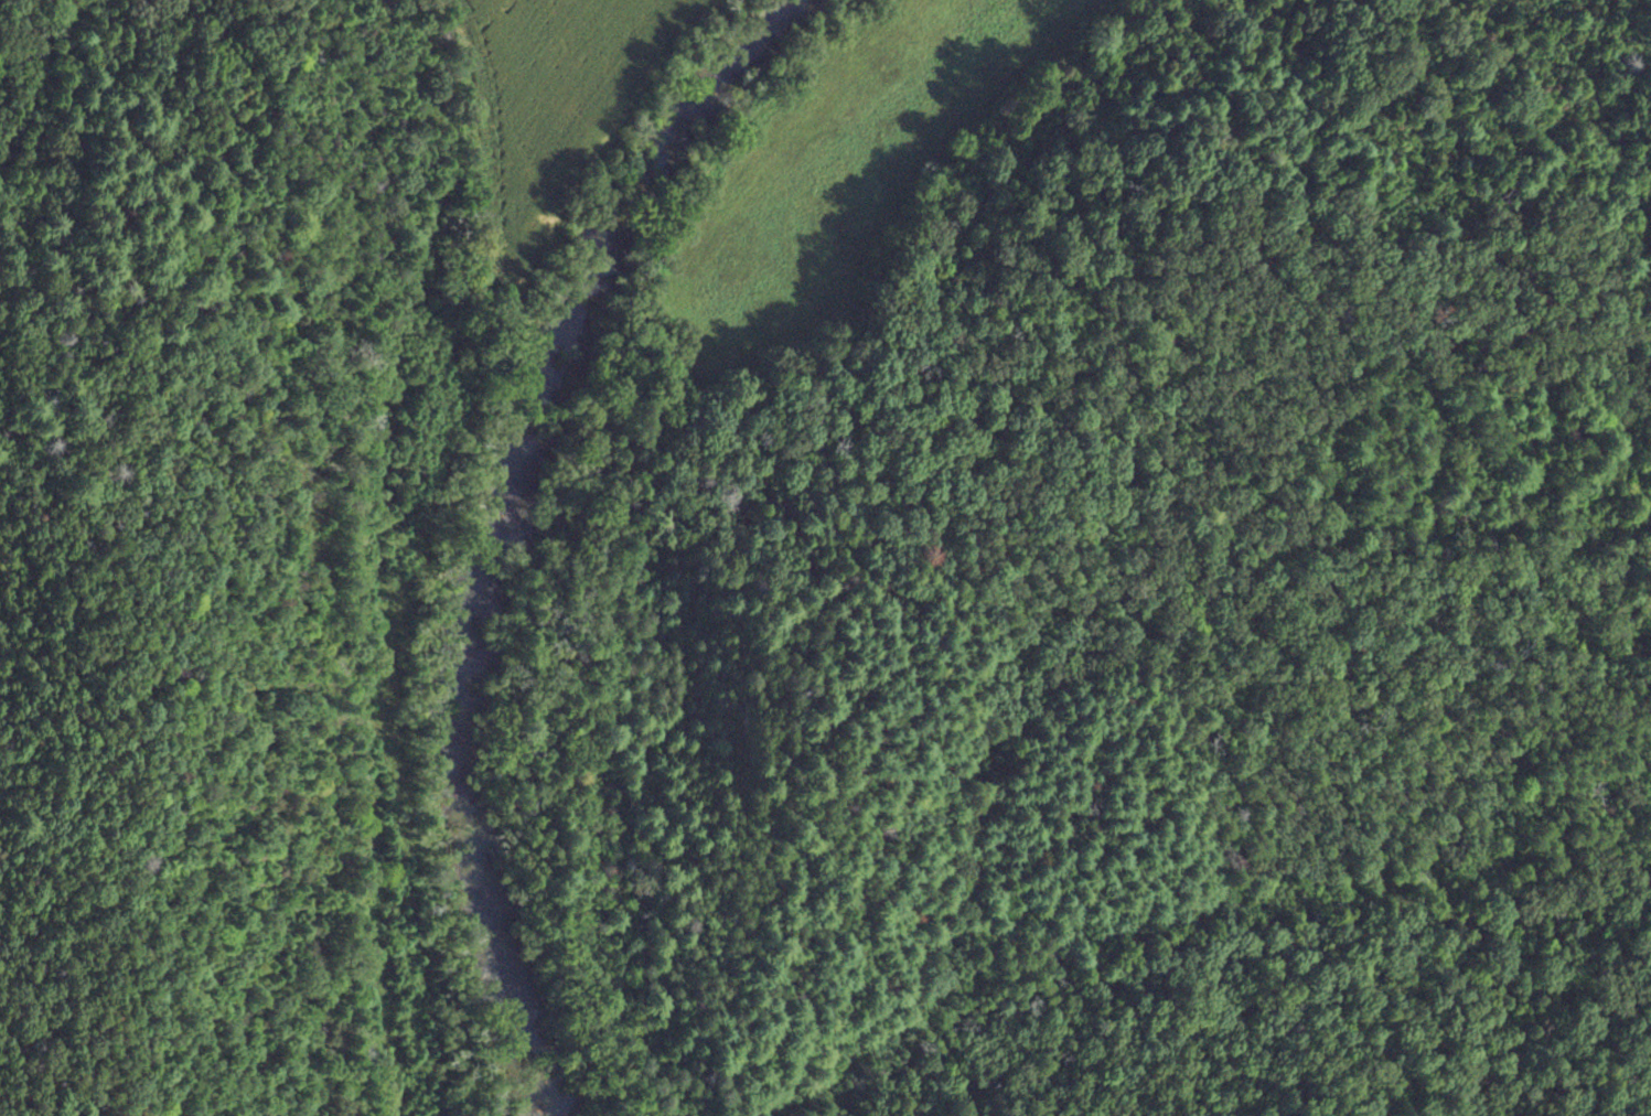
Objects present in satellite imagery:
river: (504, 519)

